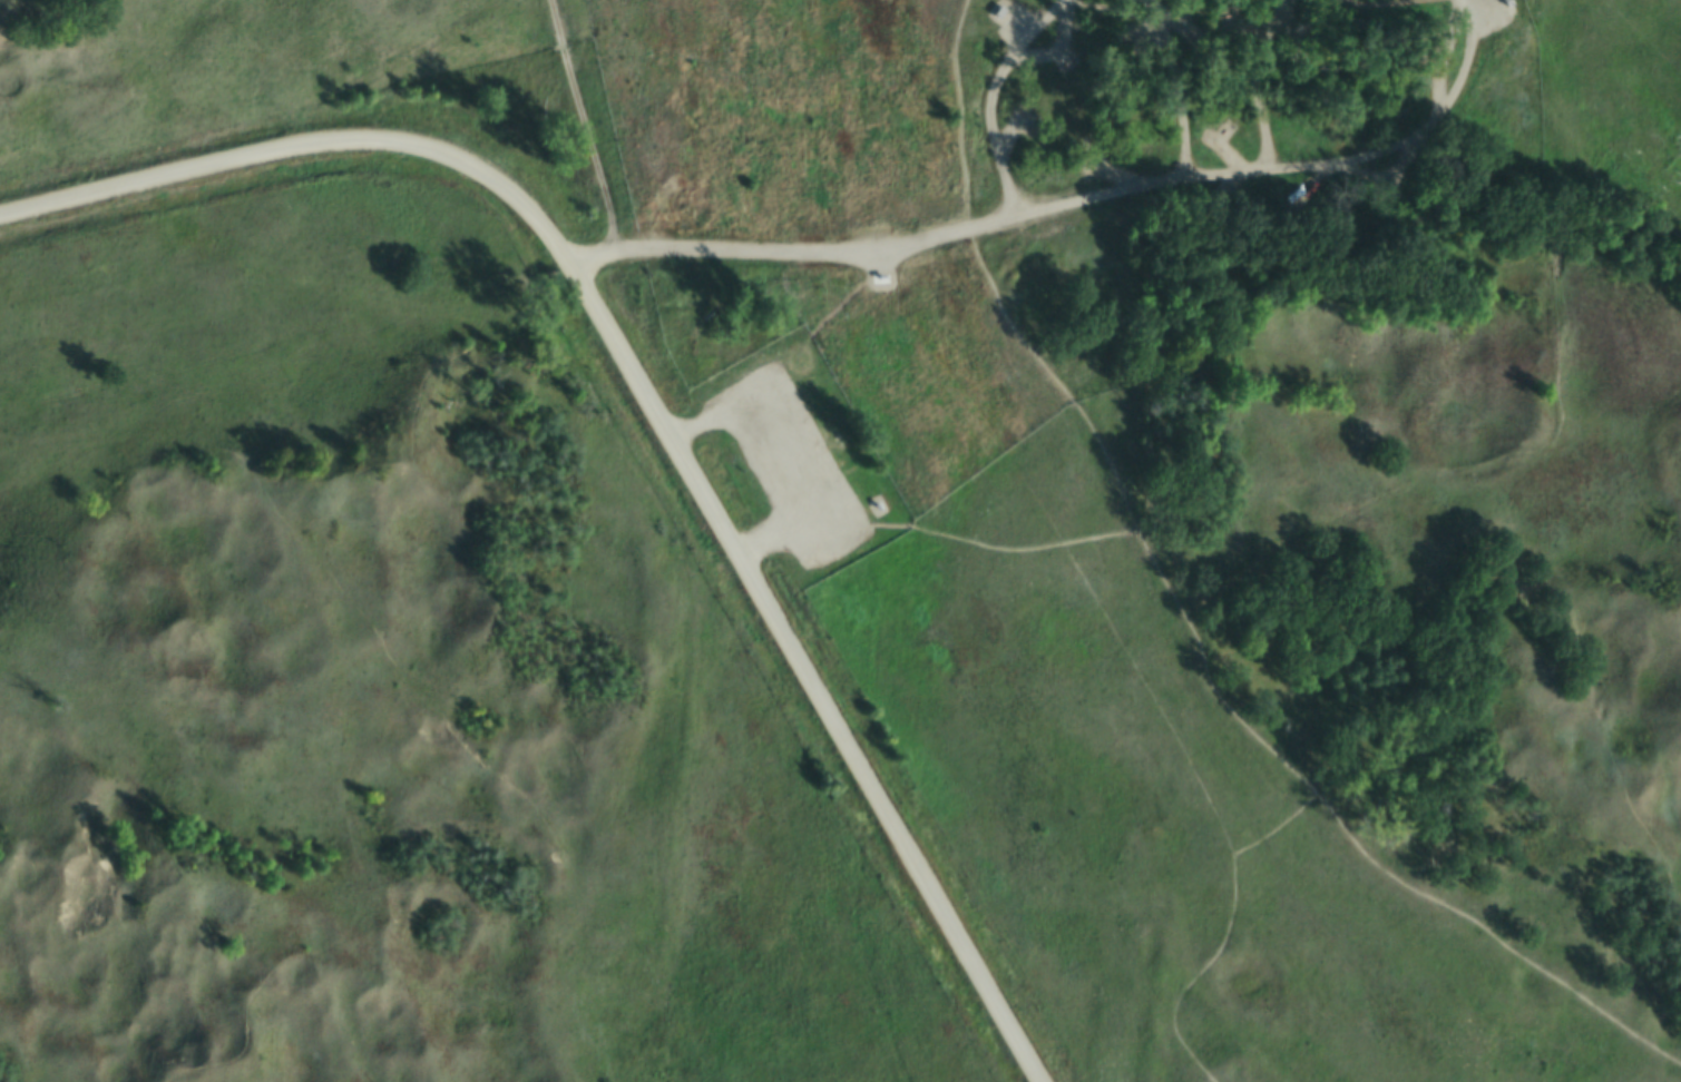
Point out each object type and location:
building: (1502, 11)
building: (995, 23)
road: (987, 96)
road: (958, 114)
road: (580, 125)
road: (1286, 171)
road: (792, 254)
building: (879, 288)
road: (647, 403)
road: (781, 455)
parking lot: (788, 466)
building: (876, 517)
road: (974, 545)
road: (1210, 678)
road: (1147, 696)
road: (1488, 936)

